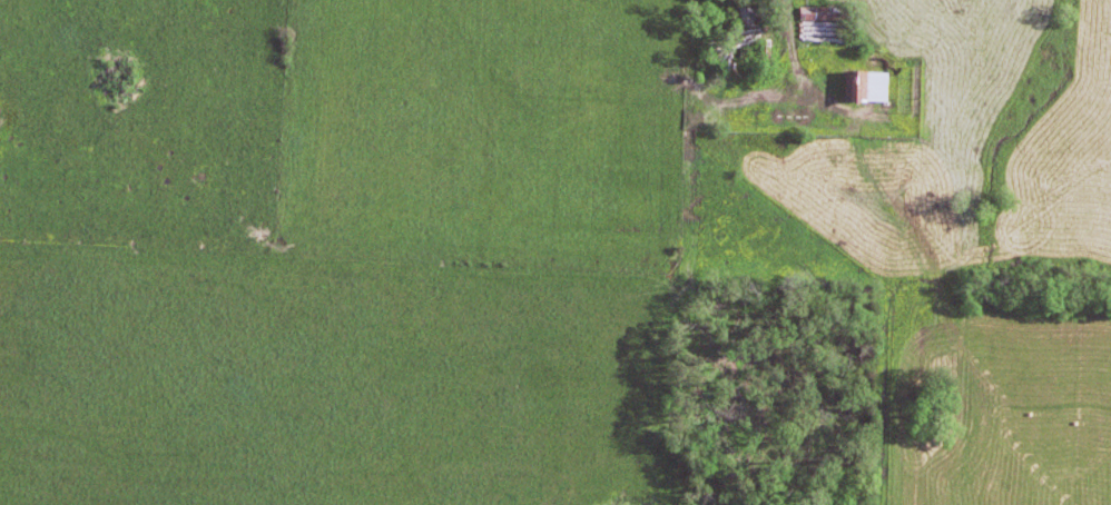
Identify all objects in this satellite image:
road: (779, 14)
building: (859, 89)

